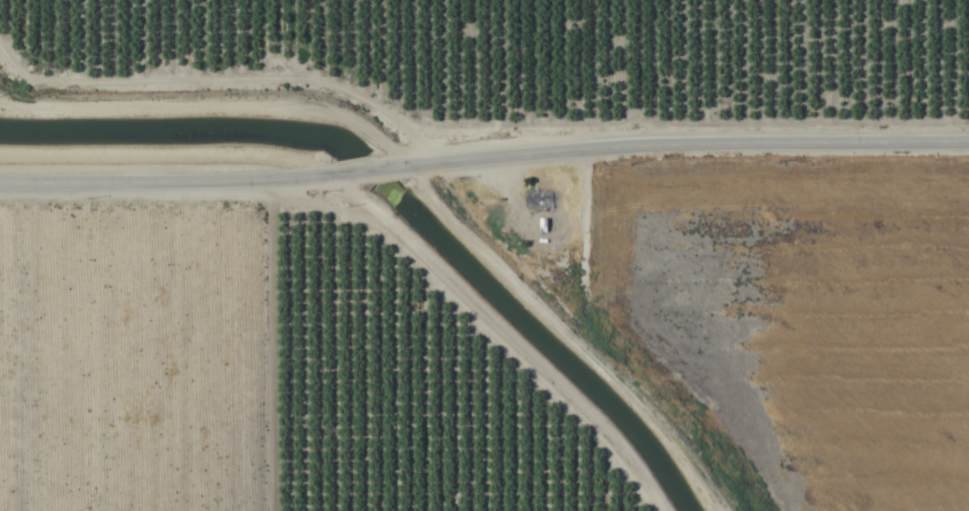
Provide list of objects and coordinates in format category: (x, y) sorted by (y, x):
road: (483, 147)
building: (540, 199)
building: (506, 233)
crop: (484, 255)
road: (456, 334)

